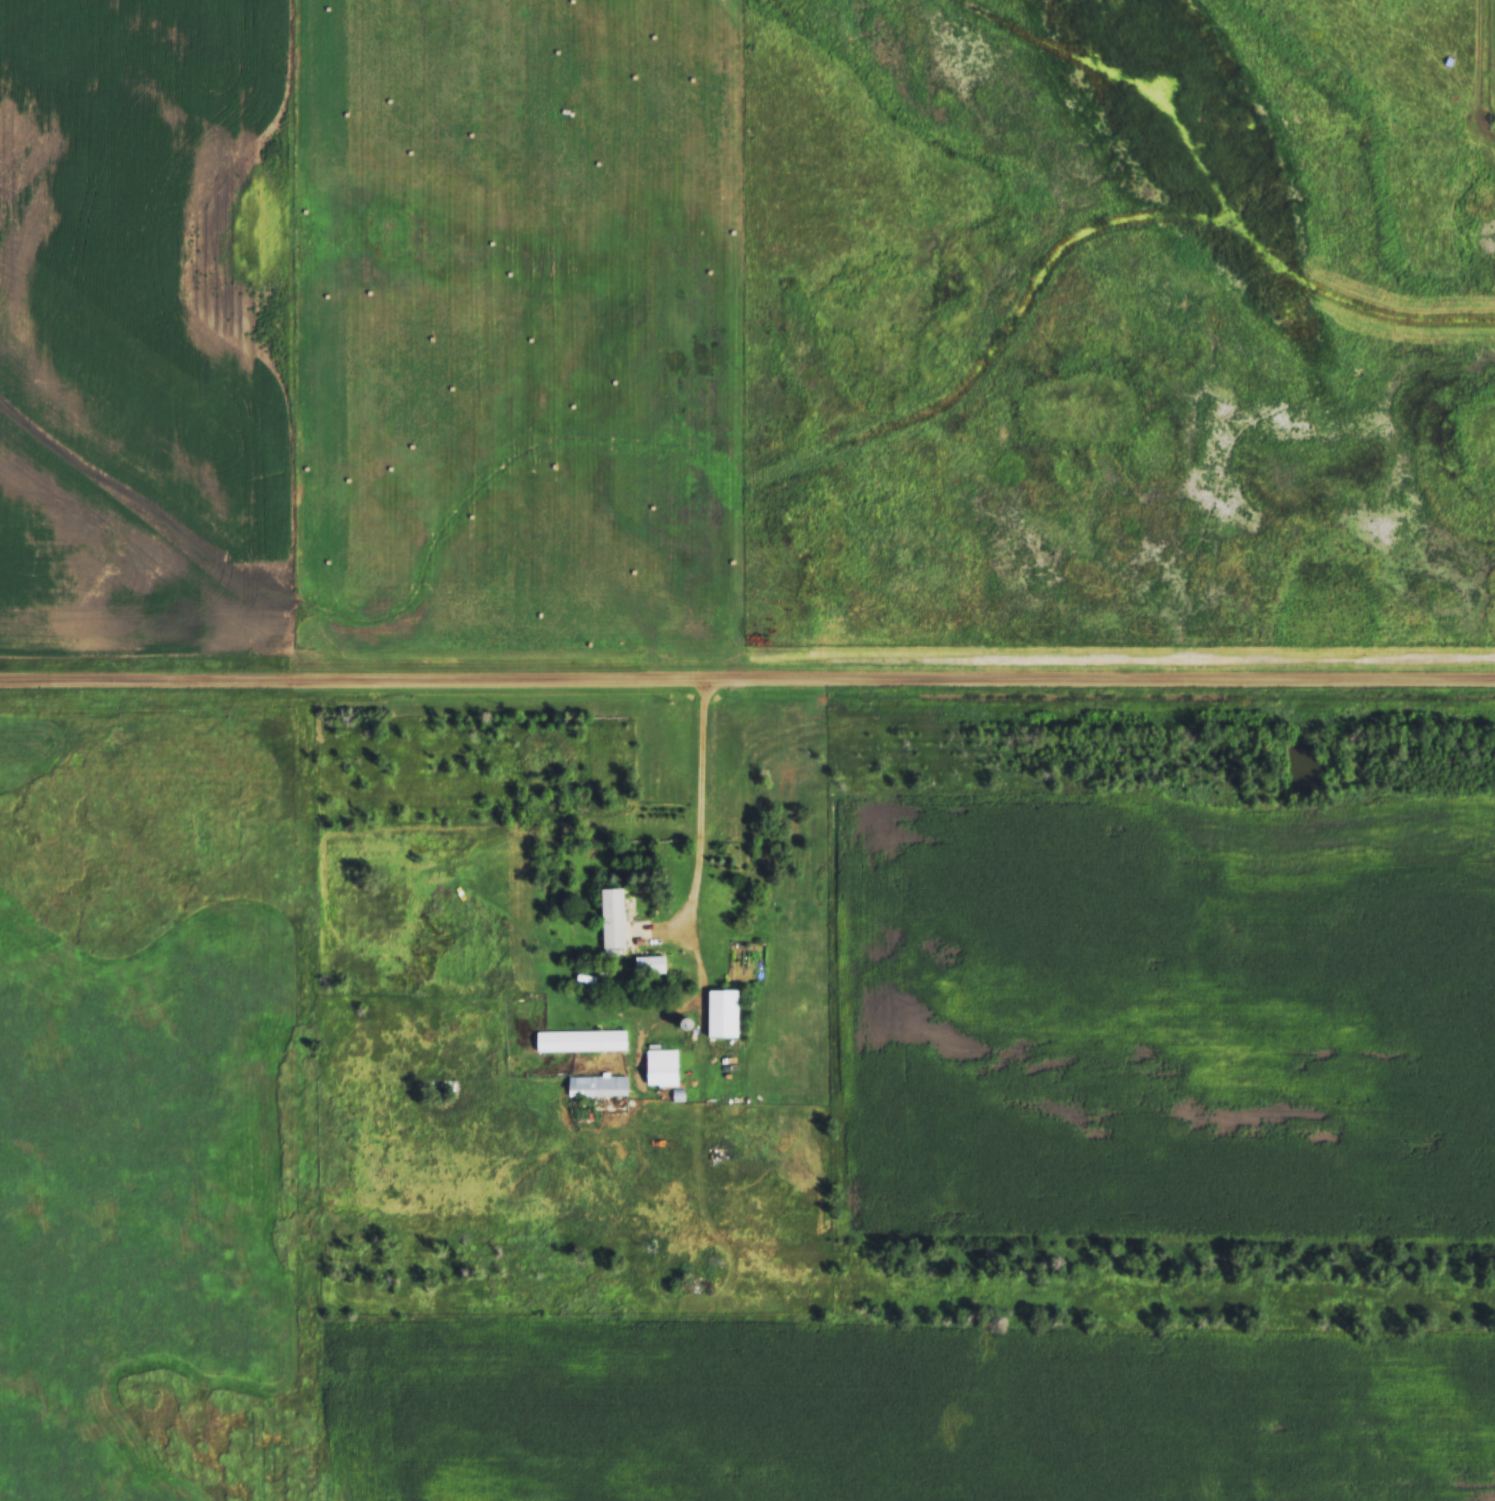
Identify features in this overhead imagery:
road: (299, 341)
road: (747, 681)
road: (671, 898)
building: (617, 917)
building: (652, 964)
building: (725, 1012)
building: (581, 1040)
building: (664, 1066)
building: (598, 1085)

